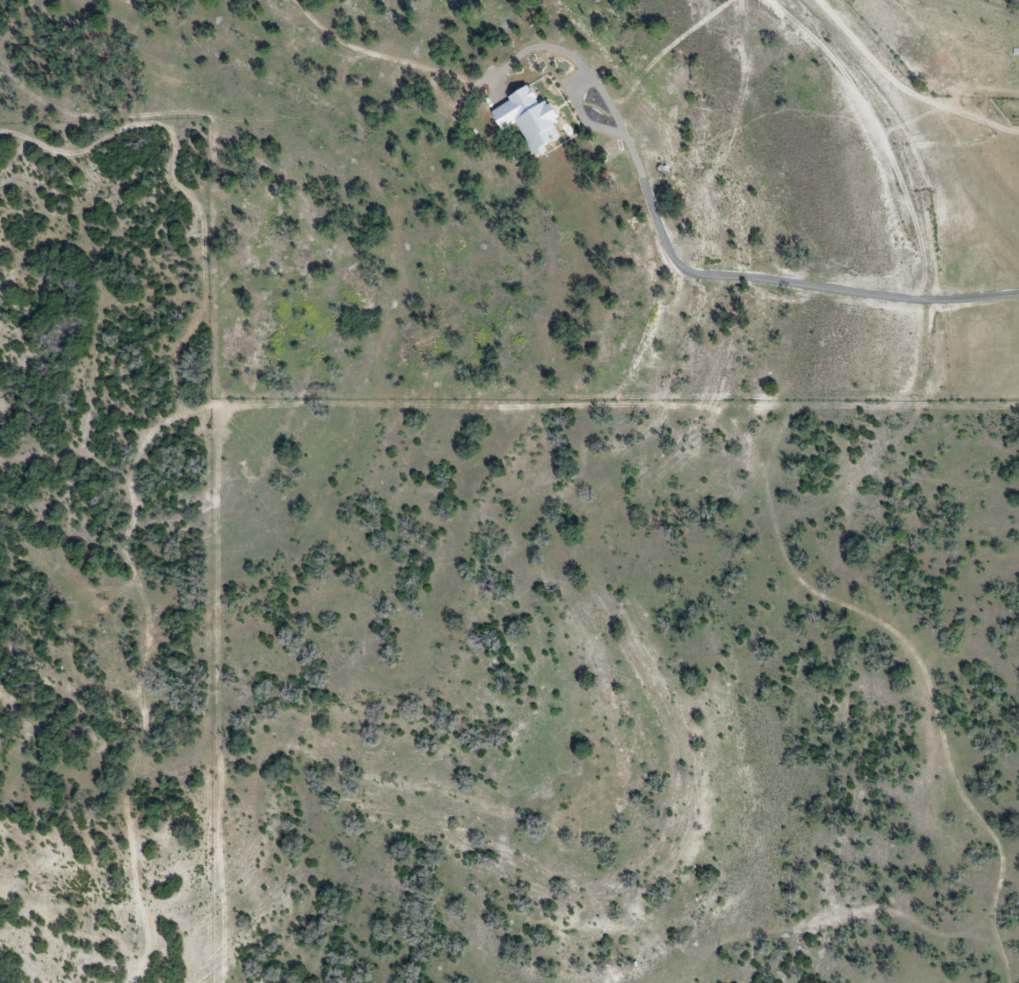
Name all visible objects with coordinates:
road: (741, 272)

